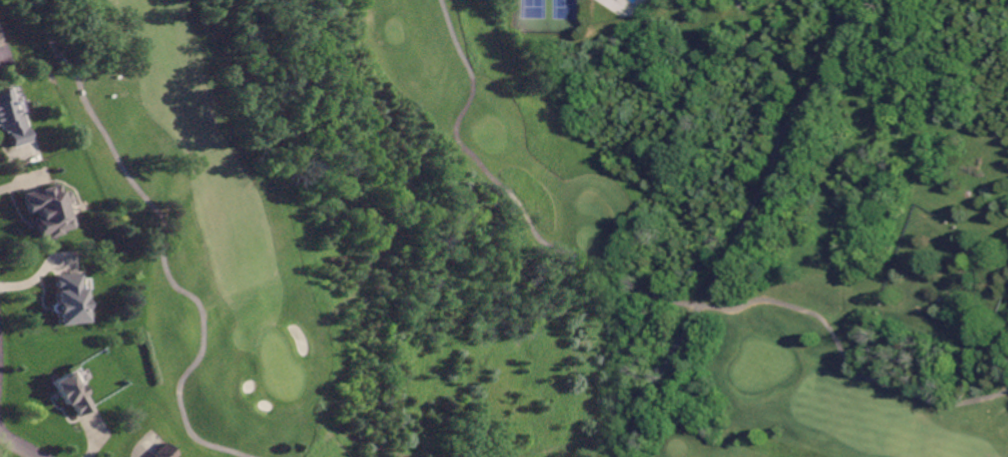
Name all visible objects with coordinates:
building: (11, 117)
road: (508, 195)
building: (43, 207)
park: (550, 237)
road: (162, 241)
building: (65, 298)
road: (786, 304)
building: (70, 389)
road: (14, 447)
building: (161, 452)

